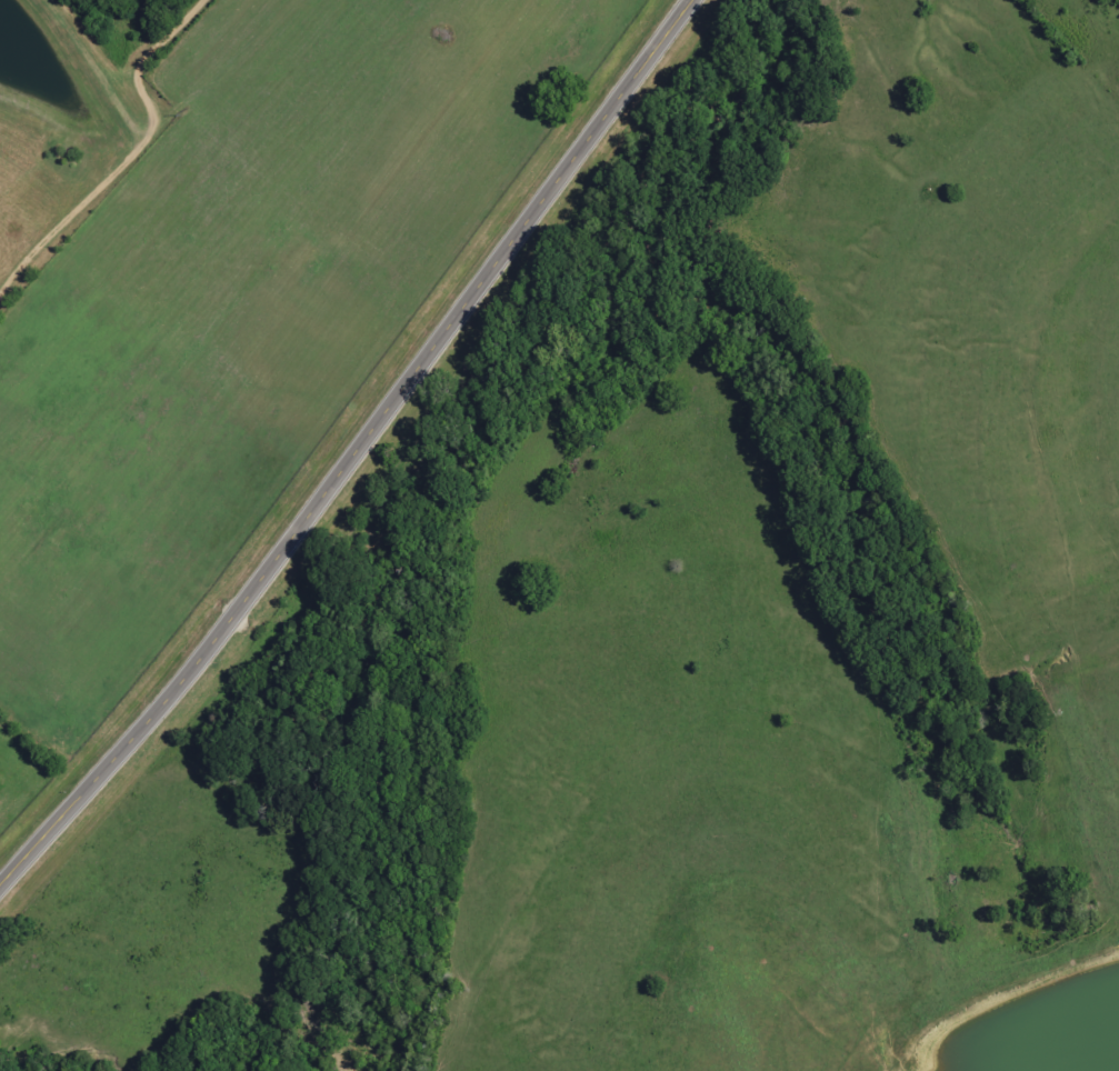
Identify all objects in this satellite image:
road: (359, 454)

